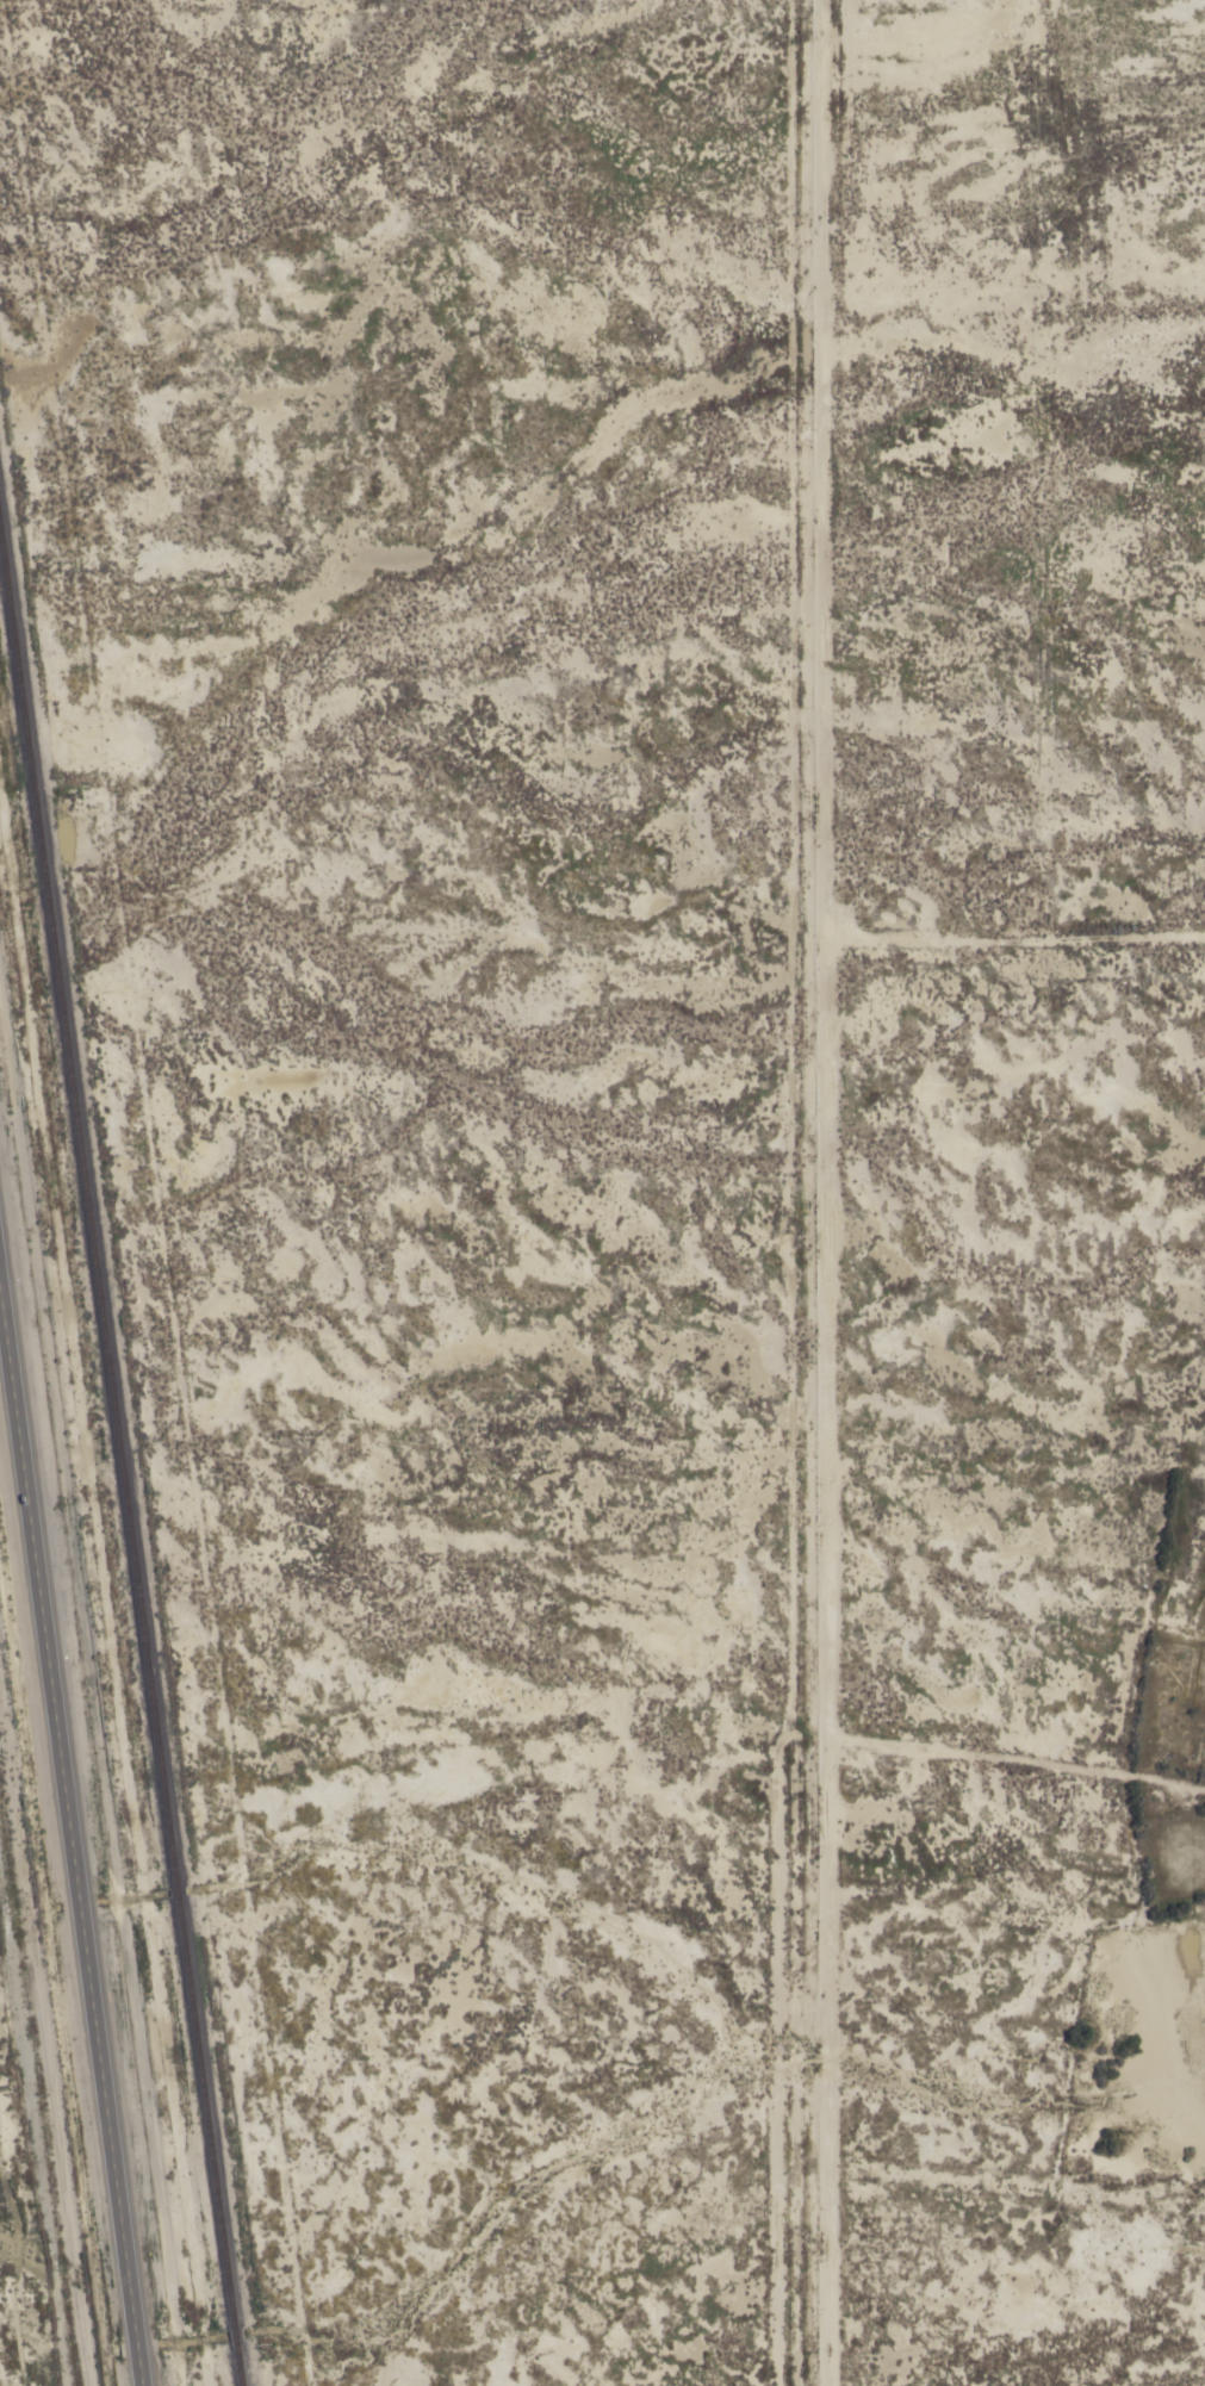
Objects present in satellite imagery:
road: (800, 1193)
railway: (87, 1211)
road: (72, 1841)
railway: (175, 1890)
railway: (204, 2111)
wastewater plant: (30, 2164)
railway: (234, 2336)
railway: (238, 2366)

